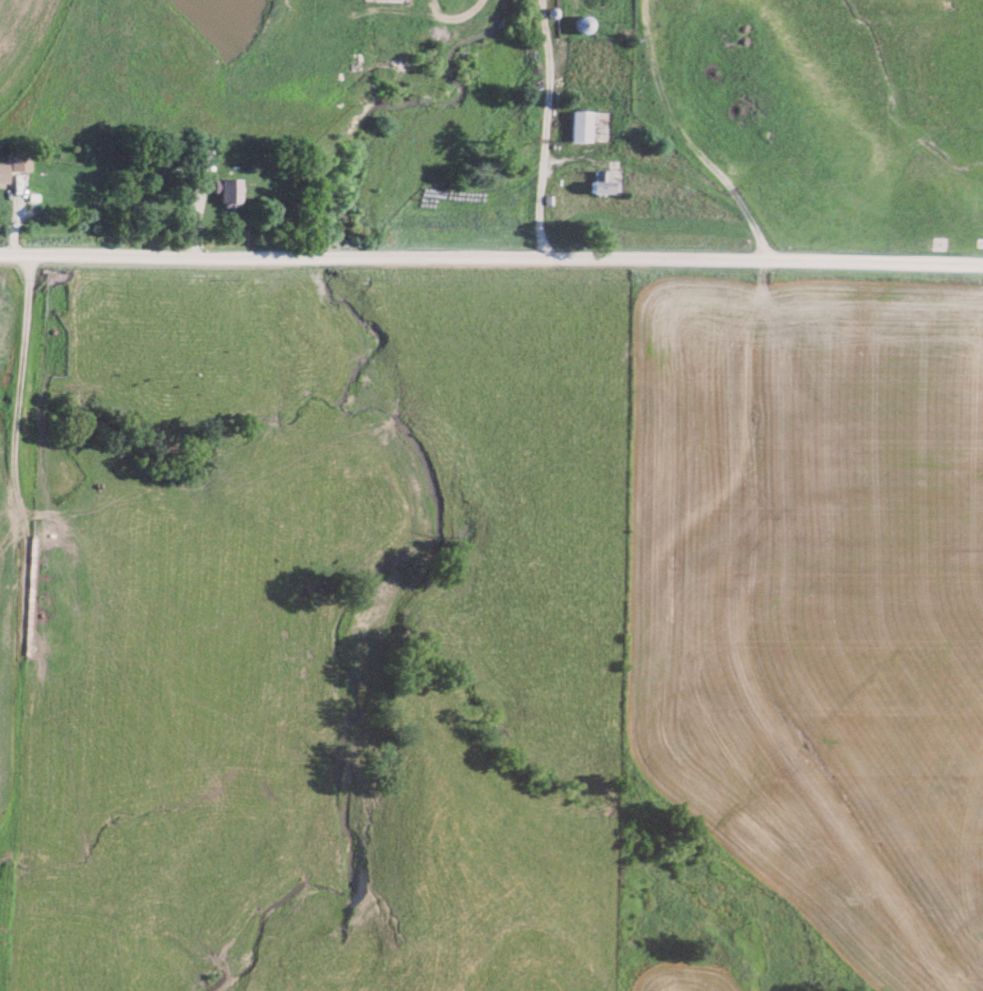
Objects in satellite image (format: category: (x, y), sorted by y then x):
building: (585, 23)
road: (676, 115)
building: (583, 125)
building: (19, 161)
road: (632, 161)
building: (3, 172)
building: (229, 191)
road: (491, 252)

